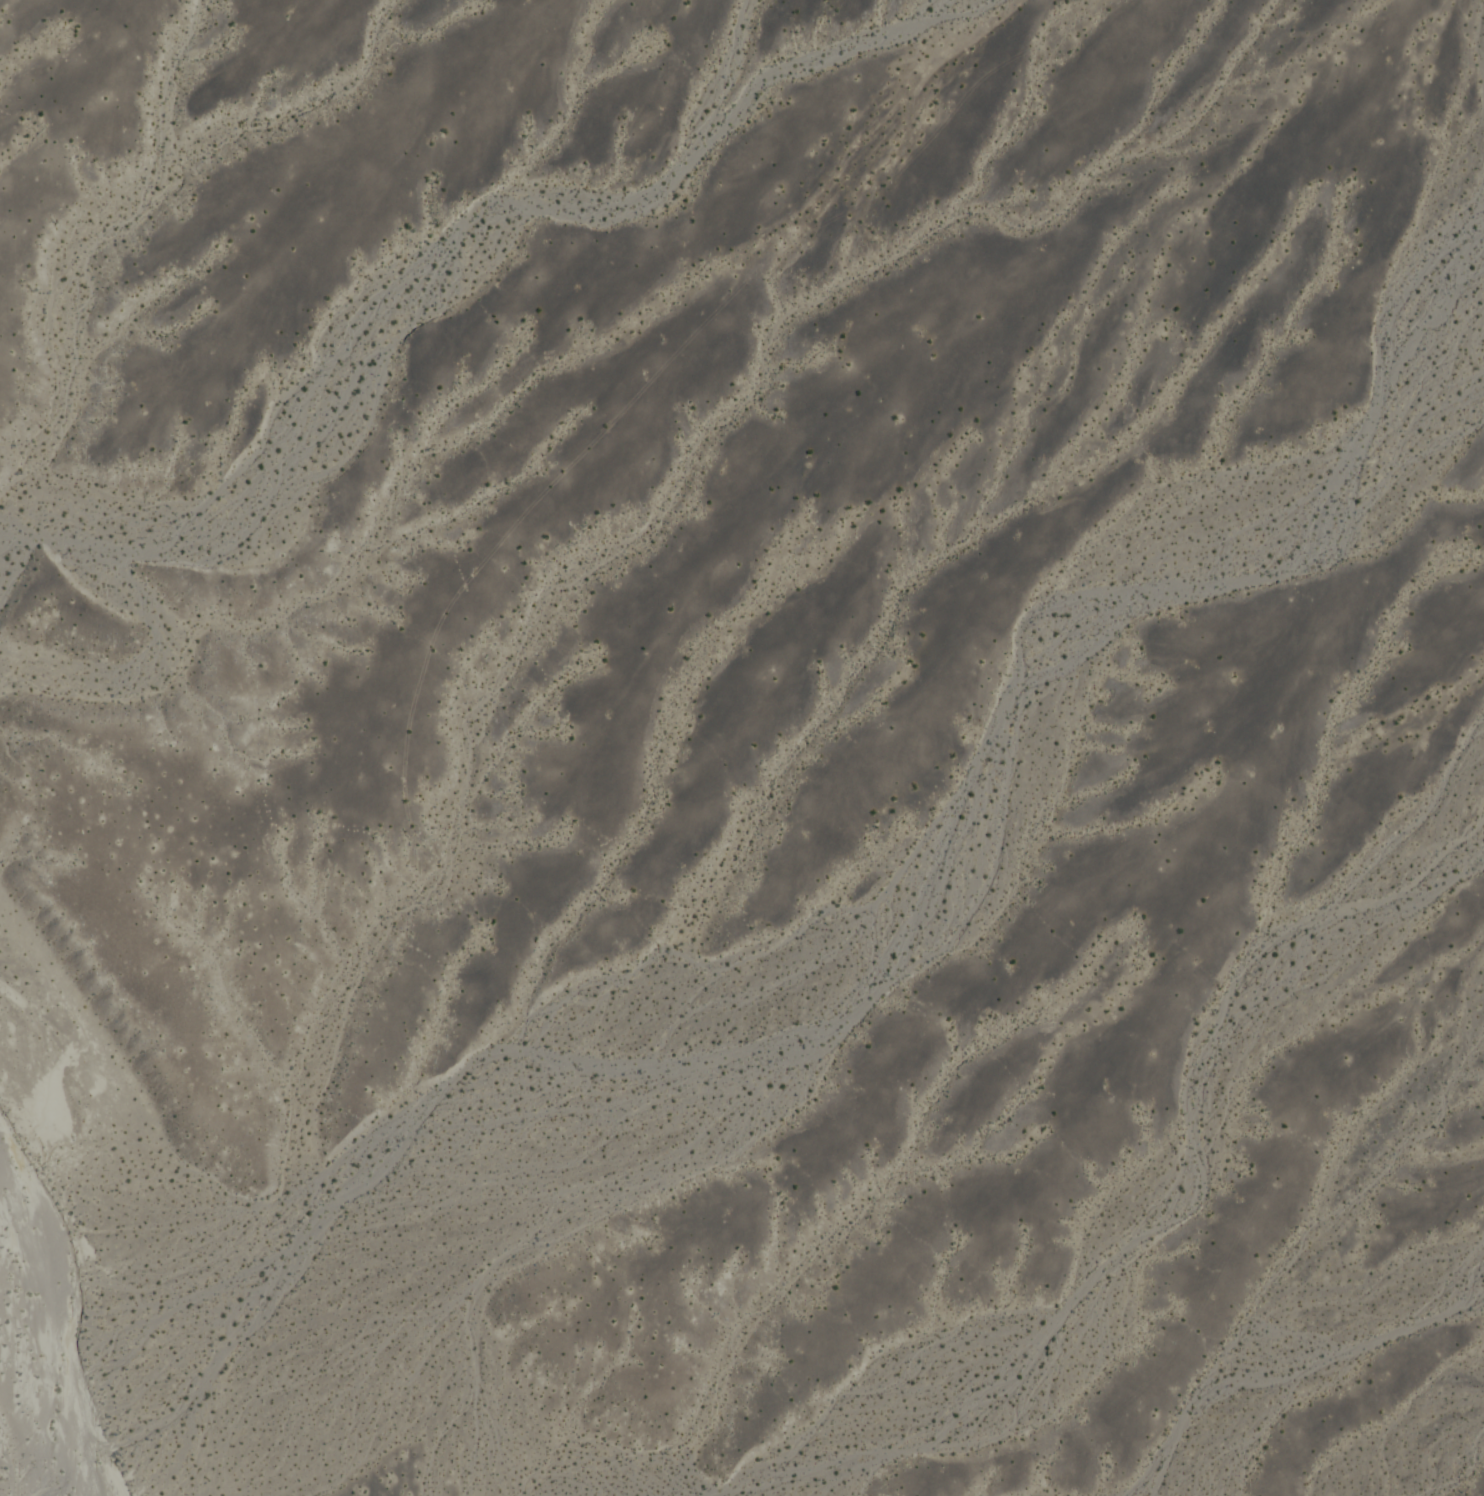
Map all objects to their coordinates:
river: (14, 1442)

